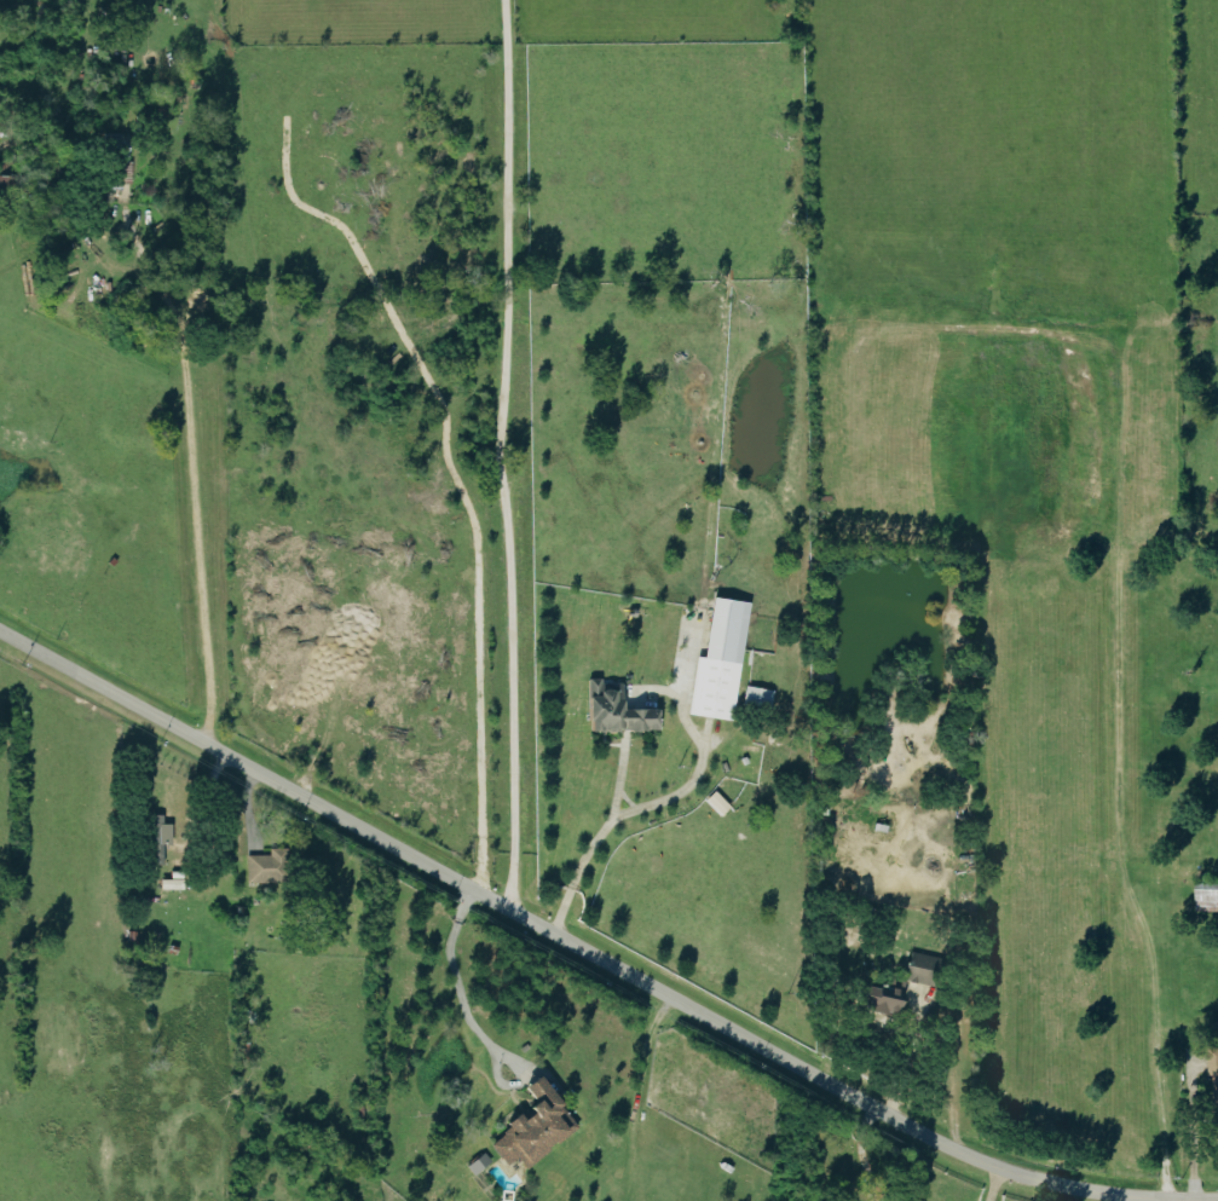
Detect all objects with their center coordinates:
road: (500, 454)
road: (192, 470)
building: (717, 662)
building: (757, 697)
building: (612, 710)
building: (716, 803)
road: (628, 810)
building: (157, 838)
building: (266, 867)
building: (1206, 896)
road: (595, 951)
building: (916, 968)
road: (460, 989)
building: (881, 998)
building: (1213, 1078)
building: (531, 1125)
road: (1193, 1130)
building: (477, 1164)
road: (994, 1180)

